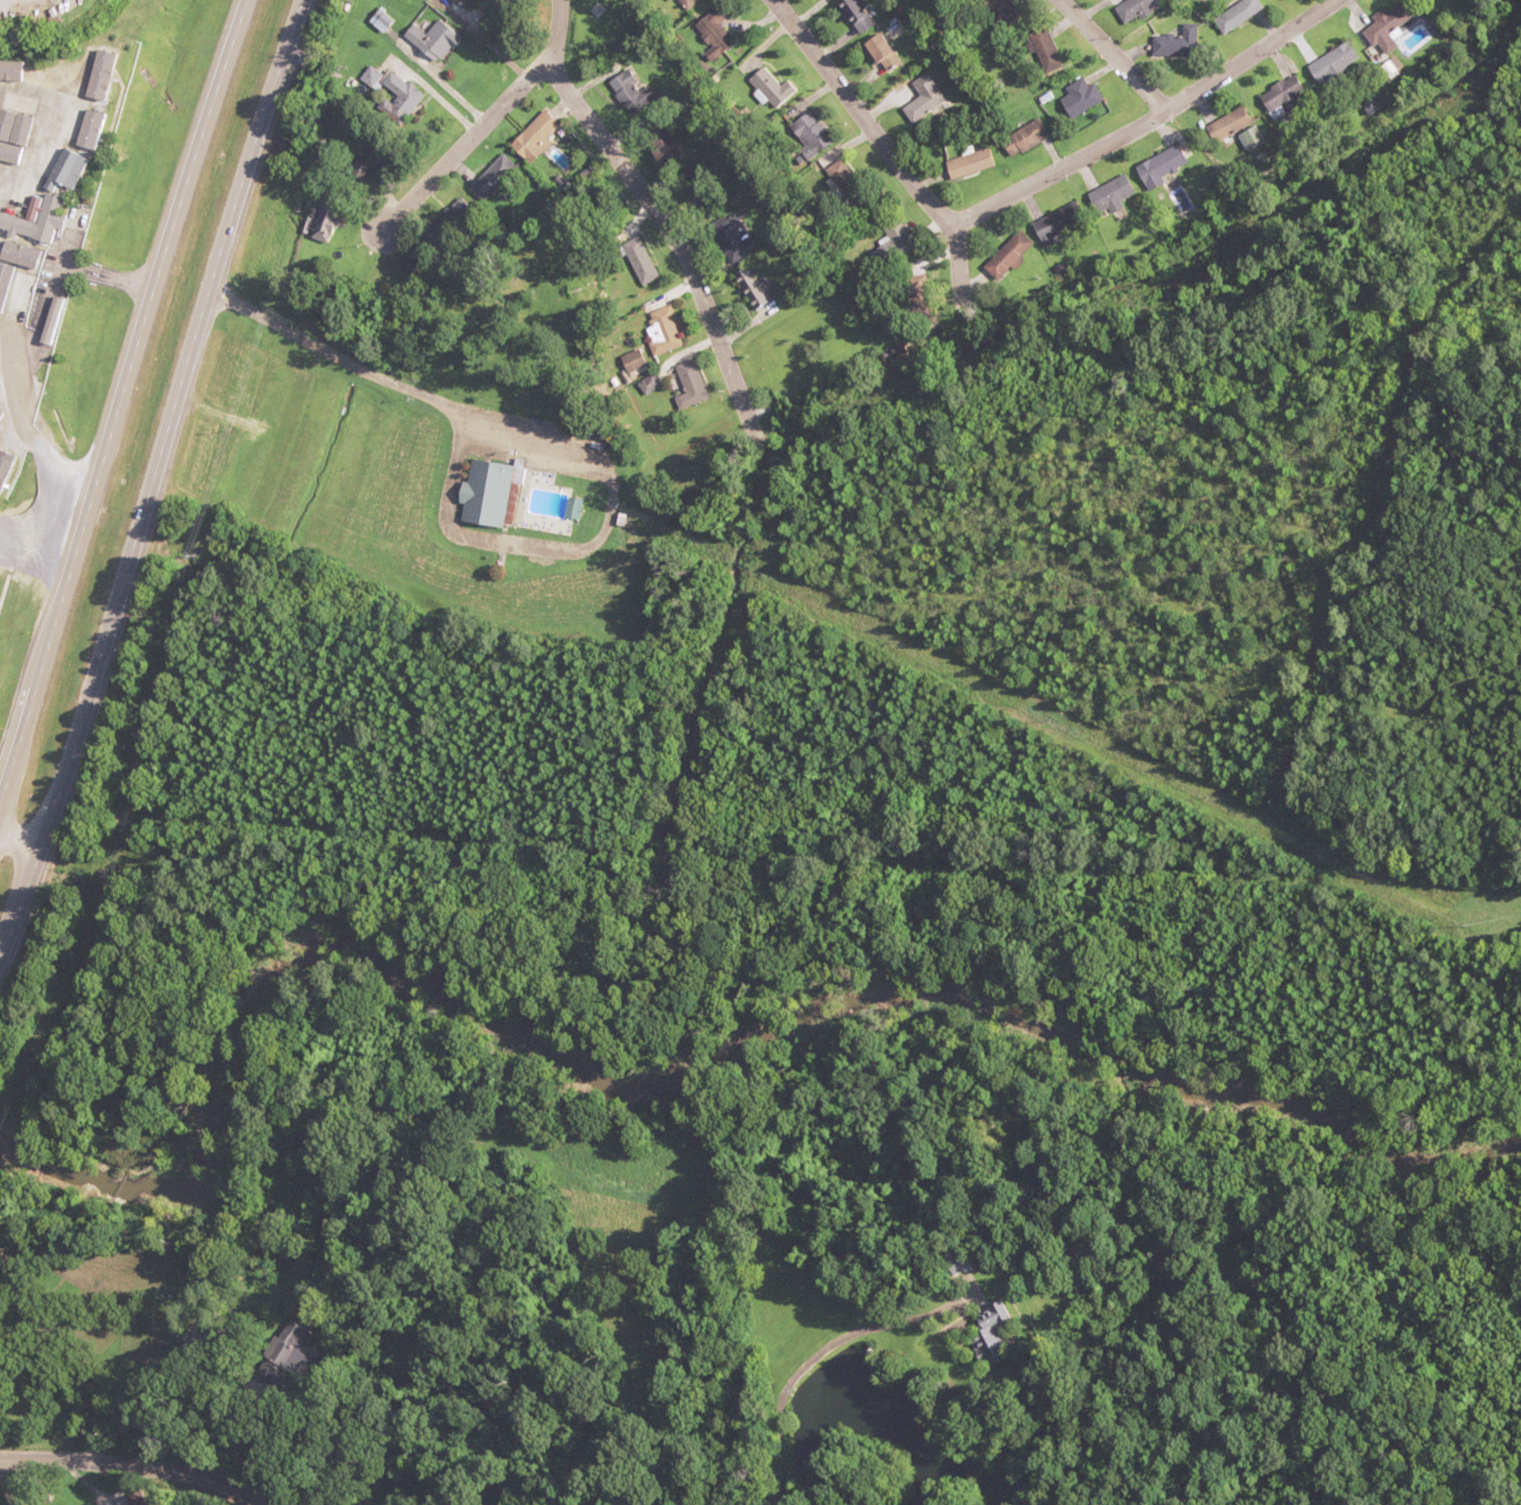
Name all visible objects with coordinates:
building: (1142, 9)
building: (859, 15)
building: (1234, 15)
building: (1385, 30)
road: (557, 31)
building: (439, 40)
building: (717, 41)
building: (1175, 42)
building: (1050, 50)
building: (890, 52)
road: (1110, 56)
building: (1333, 63)
building: (19, 70)
building: (377, 77)
building: (106, 84)
building: (777, 88)
building: (633, 91)
building: (405, 97)
building: (1086, 97)
building: (1283, 97)
building: (929, 99)
building: (1374, 107)
road: (857, 112)
building: (75, 118)
road: (1149, 120)
building: (1228, 125)
building: (816, 135)
building: (542, 136)
building: (14, 140)
road: (463, 144)
building: (977, 162)
building: (1162, 166)
building: (851, 176)
building: (42, 177)
building: (496, 178)
building: (1117, 194)
building: (56, 218)
building: (323, 218)
building: (1063, 223)
road: (672, 235)
building: (898, 241)
building: (1012, 255)
building: (642, 260)
building: (752, 288)
building: (920, 299)
building: (667, 331)
building: (637, 361)
building: (691, 384)
road: (121, 407)
road: (171, 426)
road: (21, 845)
road: (21, 908)
building: (954, 1266)
building: (995, 1340)
road: (149, 1439)

